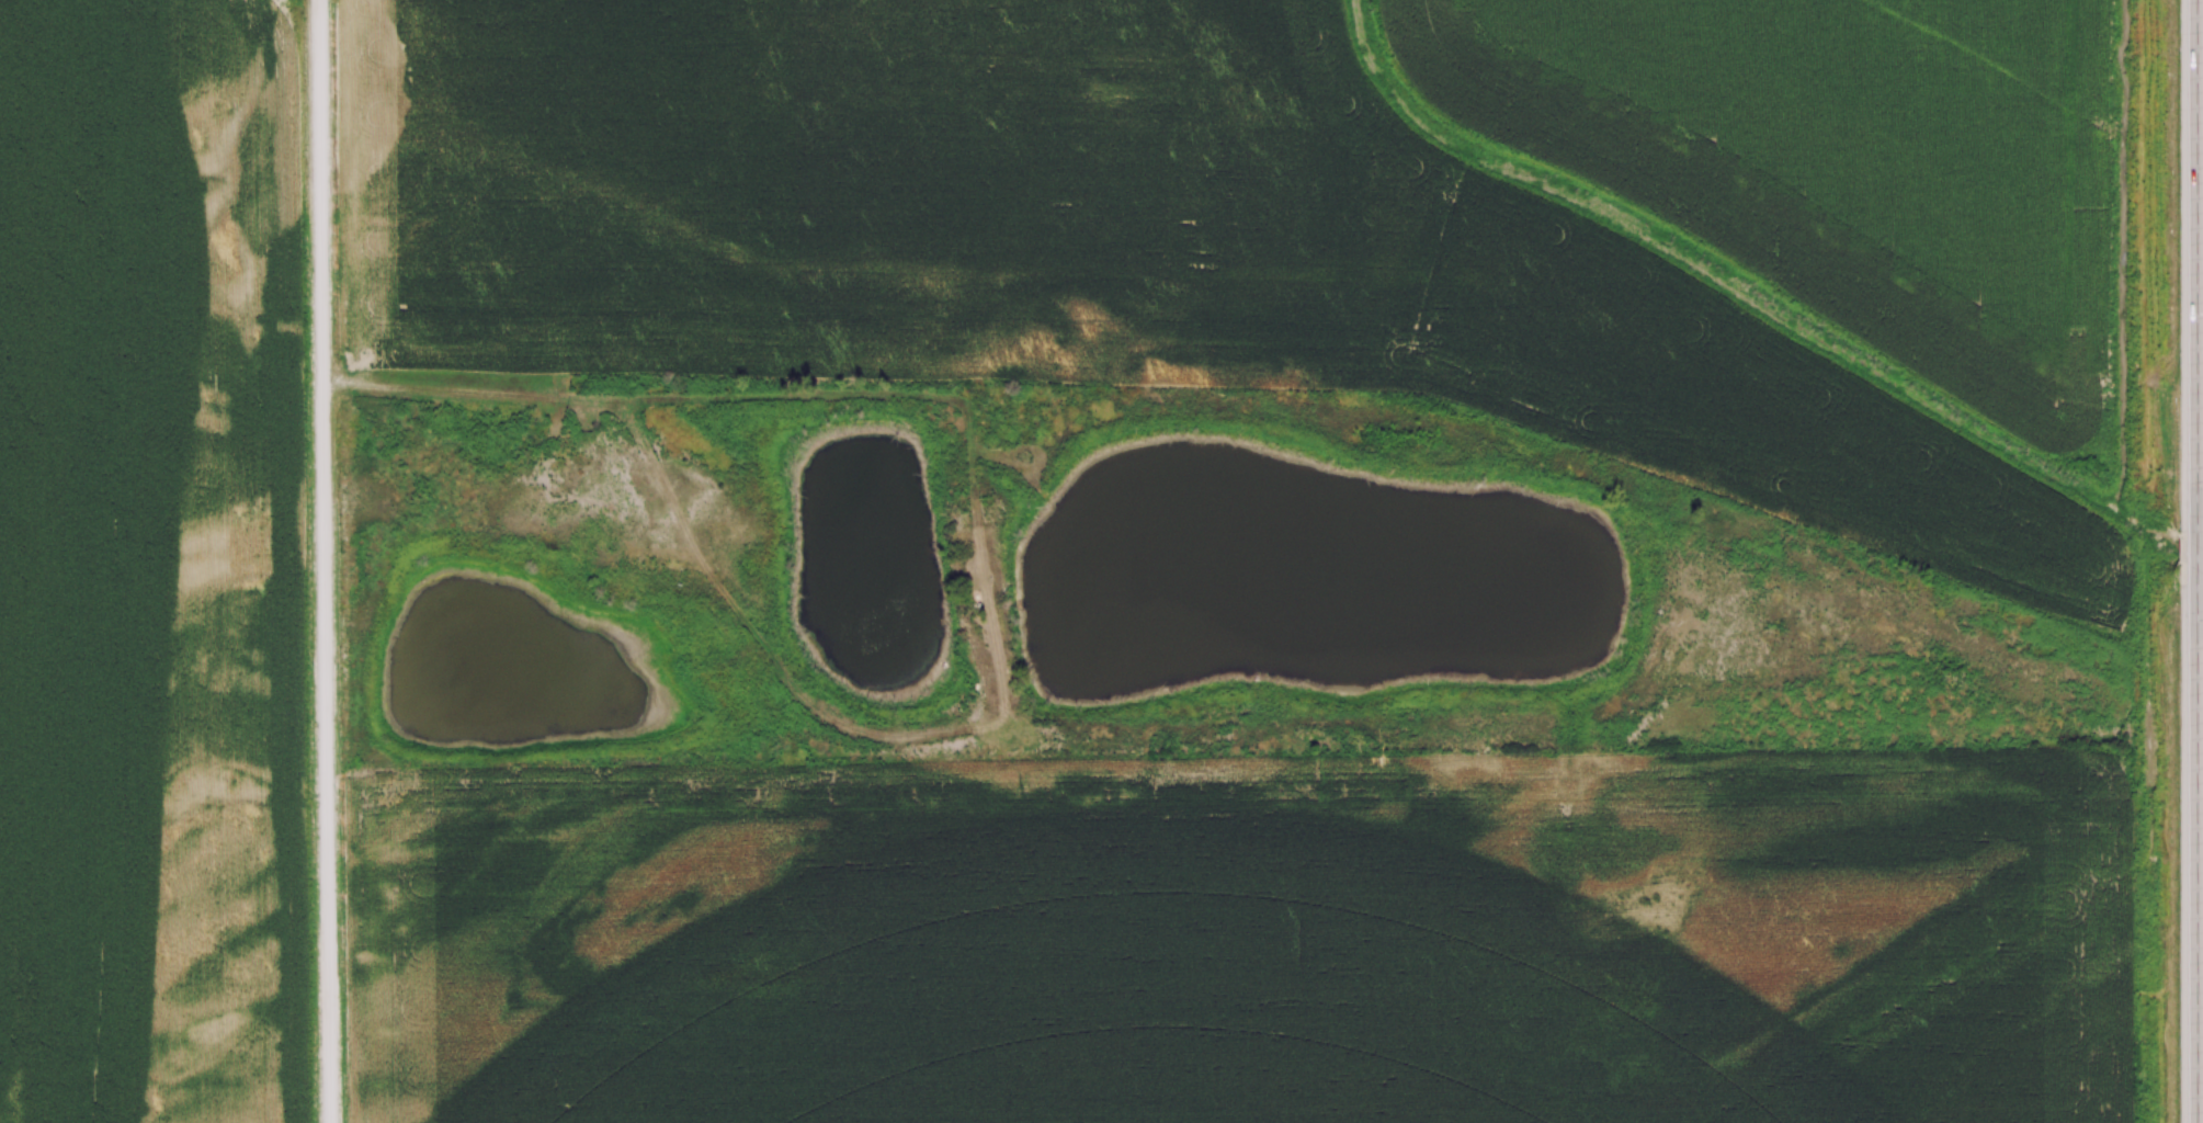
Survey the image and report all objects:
crop: (1918, 500)
road: (322, 561)
road: (2199, 561)

